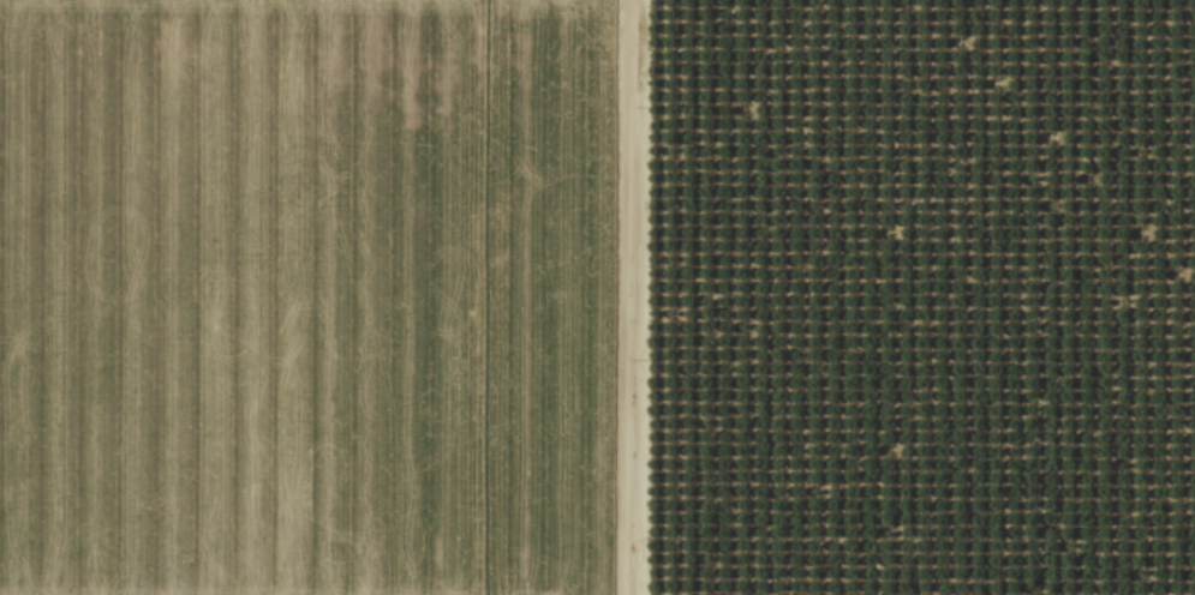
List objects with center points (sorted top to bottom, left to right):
crop: (327, 296)
road: (611, 297)

